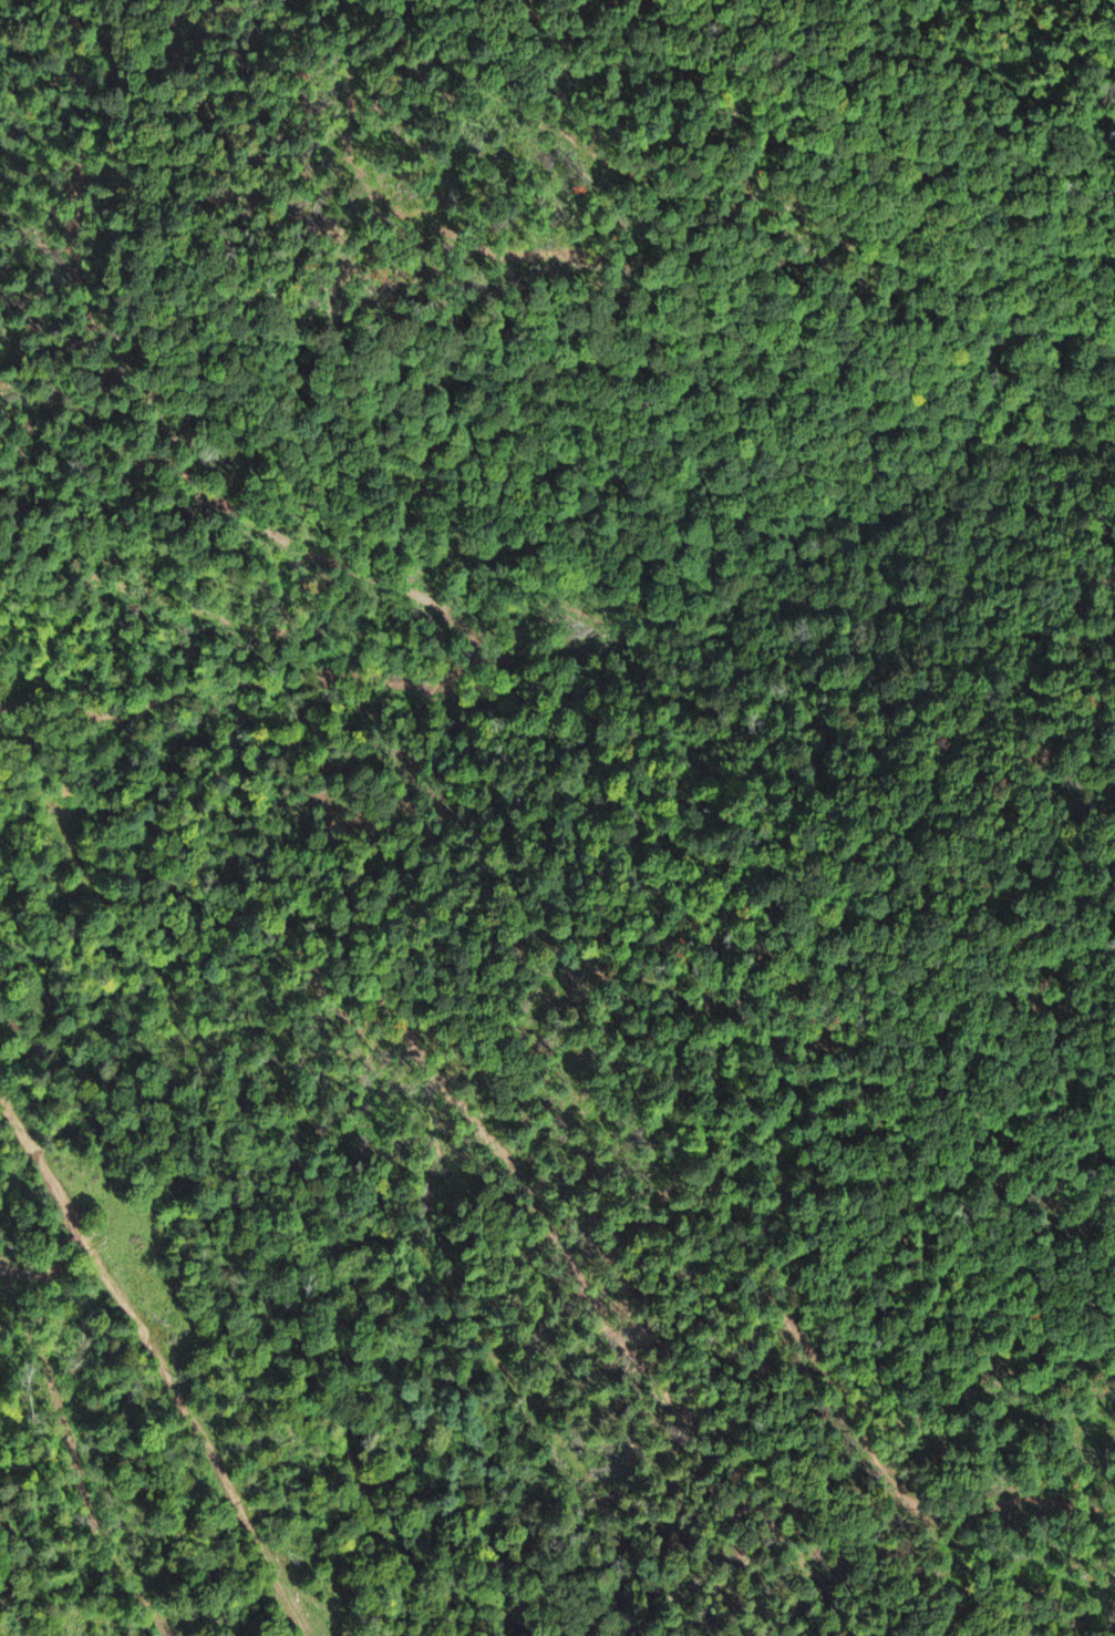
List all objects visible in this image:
road: (998, 88)

